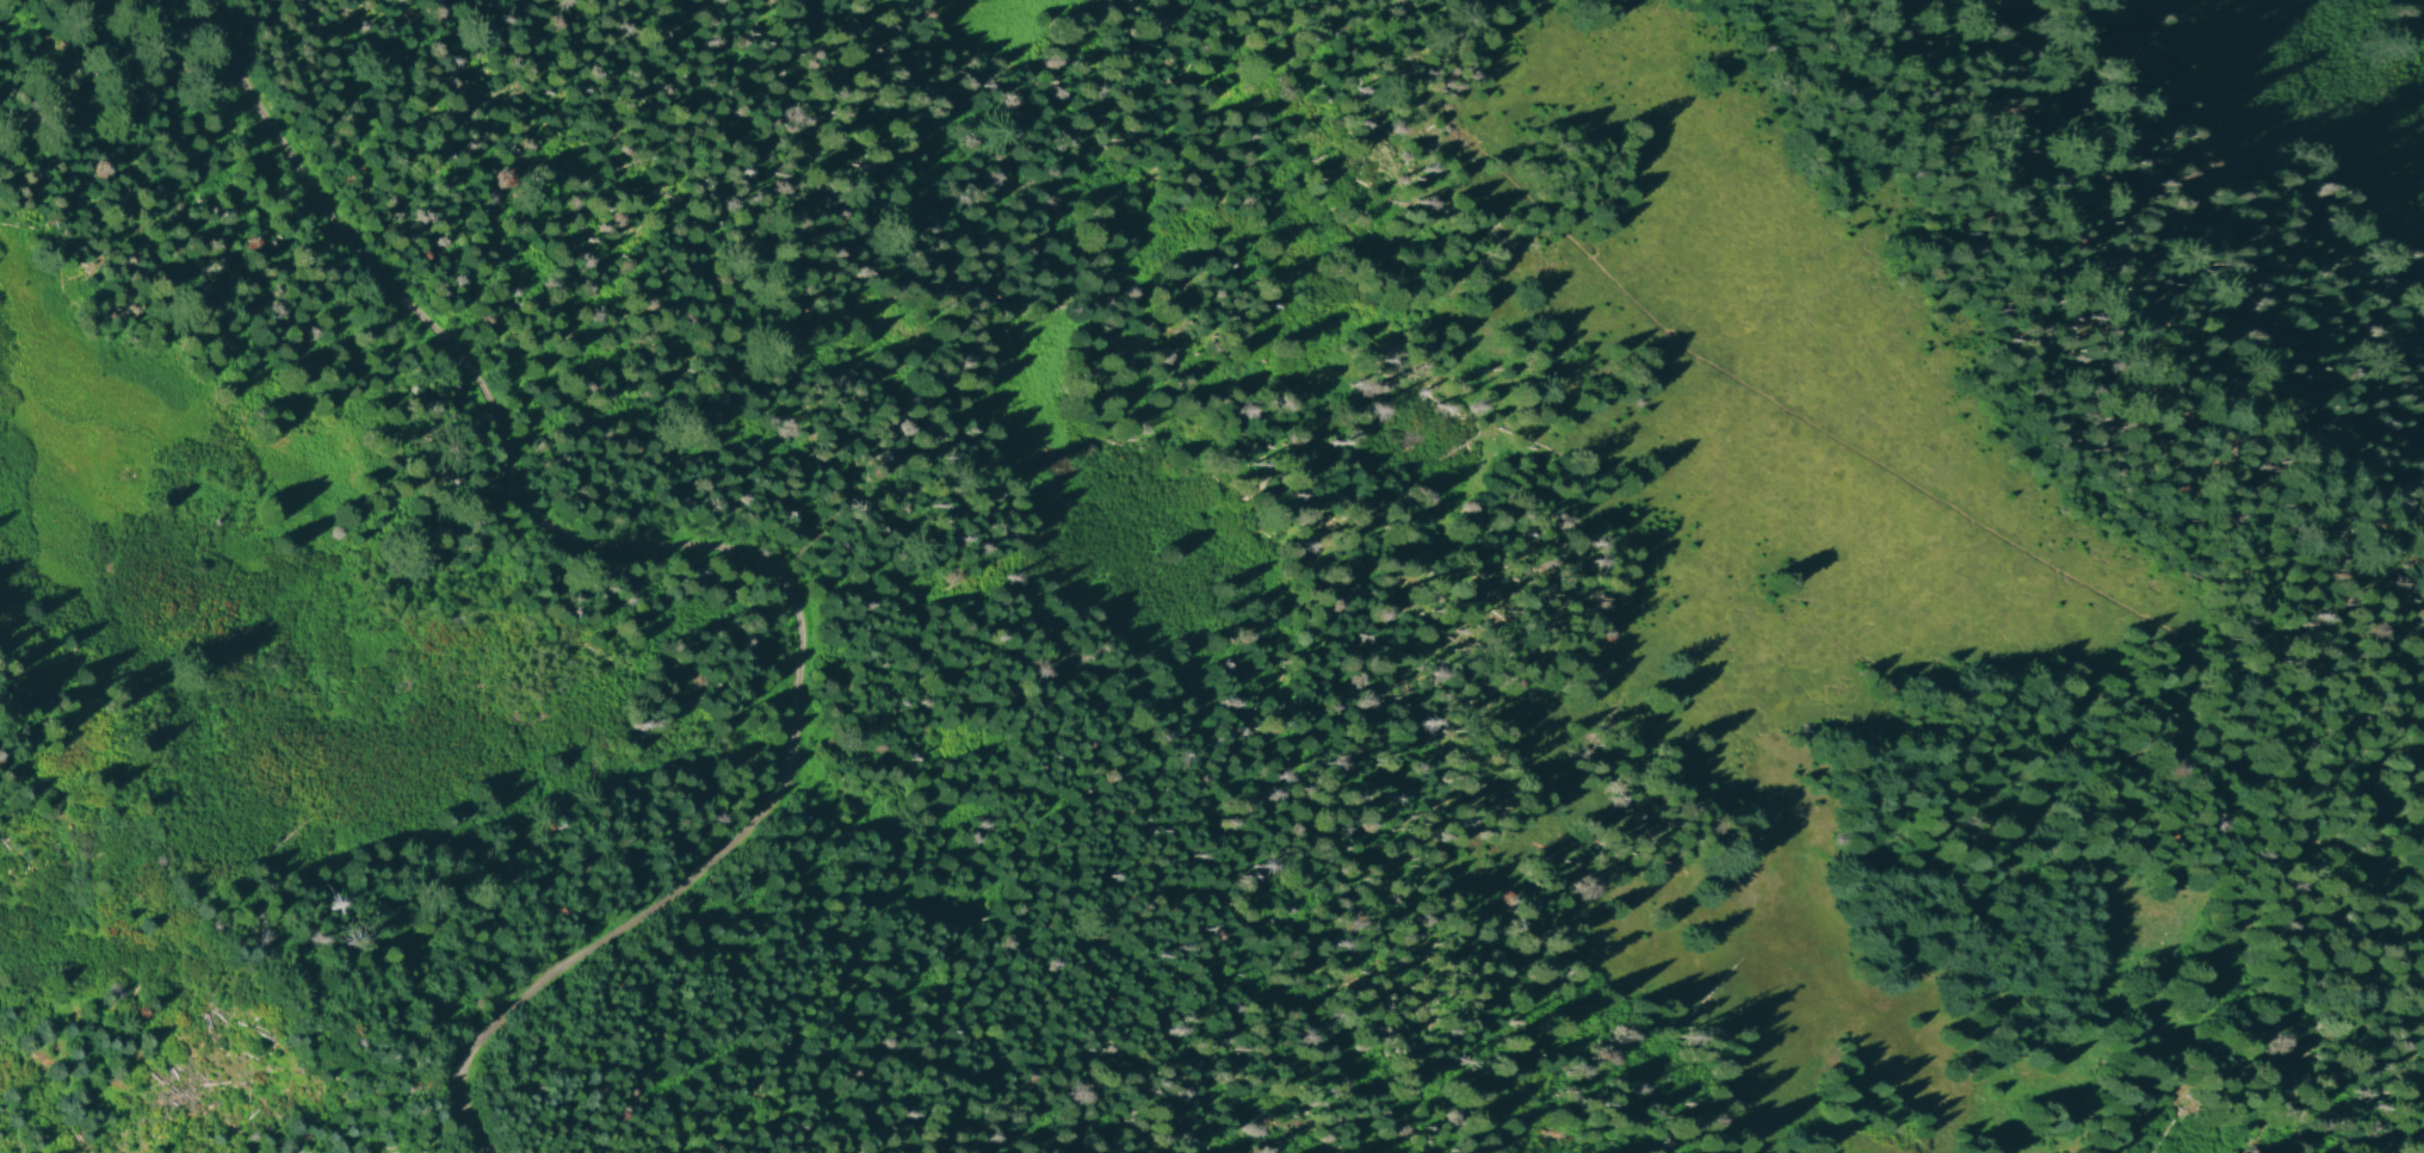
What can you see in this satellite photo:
road: (1857, 447)
road: (705, 550)

